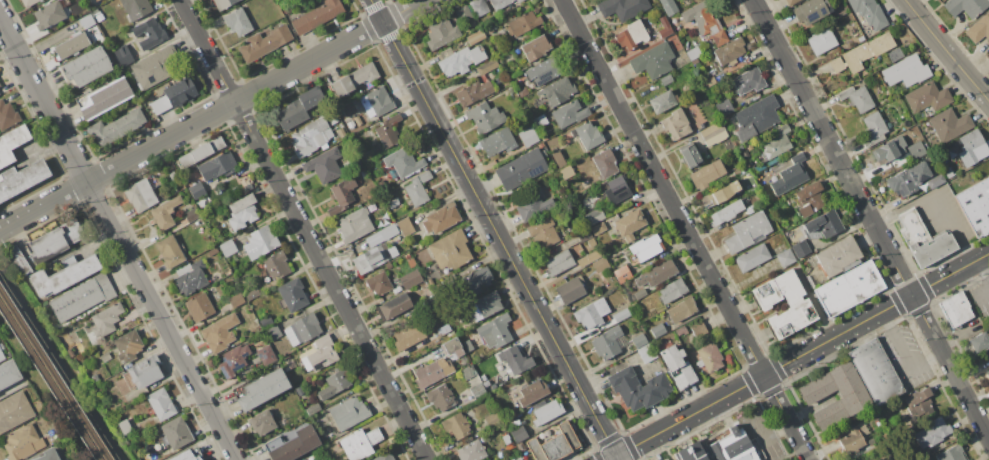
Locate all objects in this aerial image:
building: (93, 0)
building: (95, 0)
building: (517, 1)
building: (29, 2)
building: (792, 2)
building: (224, 3)
building: (499, 3)
building: (479, 7)
building: (669, 7)
building: (966, 7)
building: (136, 8)
building: (622, 8)
building: (811, 11)
building: (463, 13)
building: (869, 13)
building: (50, 14)
building: (318, 15)
building: (99, 17)
building: (87, 21)
building: (705, 21)
building: (237, 22)
building: (523, 24)
building: (664, 27)
building: (491, 29)
building: (978, 29)
building: (150, 33)
building: (441, 33)
building: (632, 35)
building: (475, 37)
building: (861, 38)
building: (822, 42)
building: (264, 43)
building: (71, 47)
building: (536, 48)
road: (946, 50)
building: (729, 51)
building: (867, 51)
building: (693, 53)
building: (896, 55)
building: (123, 56)
building: (988, 58)
building: (461, 60)
building: (653, 61)
building: (695, 61)
building: (836, 65)
building: (487, 67)
building: (85, 68)
building: (155, 68)
building: (543, 71)
building: (907, 71)
building: (354, 79)
building: (665, 79)
building: (709, 81)
building: (748, 81)
building: (0, 84)
building: (511, 90)
building: (0, 91)
building: (558, 91)
building: (474, 92)
building: (523, 92)
building: (174, 96)
building: (928, 97)
building: (103, 98)
building: (857, 98)
building: (376, 102)
building: (663, 102)
building: (887, 106)
building: (725, 107)
building: (299, 108)
building: (570, 113)
building: (7, 114)
road: (210, 114)
building: (485, 117)
building: (756, 118)
building: (358, 120)
building: (351, 124)
building: (675, 124)
building: (949, 125)
building: (117, 127)
building: (783, 129)
building: (873, 129)
building: (340, 131)
building: (388, 131)
building: (713, 134)
building: (587, 135)
building: (311, 137)
building: (531, 138)
building: (543, 138)
building: (497, 142)
building: (971, 142)
building: (12, 143)
building: (540, 145)
building: (777, 146)
building: (889, 149)
building: (916, 150)
building: (201, 152)
building: (745, 153)
building: (690, 154)
building: (797, 157)
building: (558, 158)
building: (581, 159)
building: (403, 162)
building: (605, 163)
building: (324, 165)
building: (217, 166)
building: (521, 169)
building: (742, 169)
building: (754, 170)
building: (566, 172)
building: (948, 172)
building: (706, 174)
building: (173, 176)
building: (763, 176)
building: (789, 177)
building: (22, 178)
building: (908, 180)
building: (747, 181)
building: (934, 181)
building: (417, 189)
building: (617, 189)
building: (197, 190)
building: (574, 192)
building: (723, 192)
building: (141, 193)
building: (342, 195)
building: (810, 199)
building: (393, 203)
building: (532, 206)
building: (975, 206)
building: (749, 210)
building: (728, 211)
building: (242, 212)
building: (164, 213)
building: (191, 215)
building: (595, 216)
building: (441, 218)
road: (870, 219)
building: (385, 222)
building: (629, 224)
building: (825, 224)
building: (354, 225)
building: (405, 227)
building: (912, 227)
building: (598, 228)
road: (953, 228)
road: (302, 229)
road: (493, 229)
road: (685, 229)
building: (388, 231)
building: (748, 232)
building: (543, 233)
building: (584, 235)
road: (118, 240)
building: (263, 240)
building: (56, 241)
building: (591, 242)
building: (228, 248)
building: (646, 248)
building: (801, 249)
building: (932, 249)
building: (450, 250)
building: (169, 252)
building: (212, 252)
building: (839, 256)
building: (407, 257)
building: (752, 257)
building: (590, 258)
building: (785, 258)
building: (370, 260)
building: (18, 261)
building: (411, 263)
building: (558, 263)
building: (276, 265)
building: (388, 265)
building: (600, 265)
road: (984, 267)
building: (660, 272)
building: (622, 273)
building: (63, 275)
building: (190, 277)
building: (410, 278)
building: (474, 282)
building: (379, 283)
building: (848, 288)
building: (569, 290)
building: (672, 290)
building: (292, 294)
building: (639, 294)
road: (980, 294)
building: (82, 297)
building: (236, 300)
building: (799, 305)
building: (484, 306)
building: (199, 307)
building: (394, 307)
building: (955, 309)
building: (680, 310)
building: (592, 313)
building: (621, 315)
building: (106, 319)
building: (699, 329)
building: (303, 330)
building: (445, 330)
building: (658, 330)
building: (681, 330)
building: (495, 331)
building: (274, 332)
building: (219, 333)
building: (408, 335)
building: (90, 336)
building: (639, 341)
building: (607, 342)
road: (896, 342)
building: (980, 344)
building: (128, 346)
building: (468, 346)
building: (452, 347)
building: (70, 353)
building: (647, 353)
building: (320, 354)
building: (266, 355)
building: (1, 356)
road: (798, 356)
building: (105, 357)
building: (709, 357)
building: (233, 360)
building: (515, 360)
building: (678, 367)
road: (61, 368)
building: (145, 371)
building: (874, 371)
building: (468, 372)
building: (987, 372)
building: (8, 373)
building: (429, 374)
railway: (53, 375)
park: (56, 375)
building: (95, 378)
building: (483, 378)
building: (294, 380)
road: (48, 383)
railway: (49, 383)
building: (485, 383)
building: (335, 384)
building: (494, 386)
building: (639, 388)
building: (262, 389)
building: (299, 390)
building: (477, 391)
building: (532, 393)
building: (814, 393)
building: (441, 397)
building: (919, 402)
building: (162, 404)
building: (314, 408)
building: (14, 411)
building: (547, 412)
building: (348, 413)
building: (493, 420)
building: (262, 422)
building: (456, 425)
building: (124, 426)
road: (776, 432)
building: (519, 433)
building: (932, 433)
building: (175, 434)
building: (507, 440)
building: (851, 440)
building: (871, 441)
building: (21, 442)
building: (360, 443)
building: (292, 444)
building: (555, 444)
building: (720, 448)
building: (471, 451)
building: (951, 453)
building: (49, 454)
building: (185, 456)
traffic signals: (615, 456)
building: (384, 457)
building: (516, 457)
building: (64, 459)
building: (305, 459)
building: (666, 459)
building: (668, 459)

